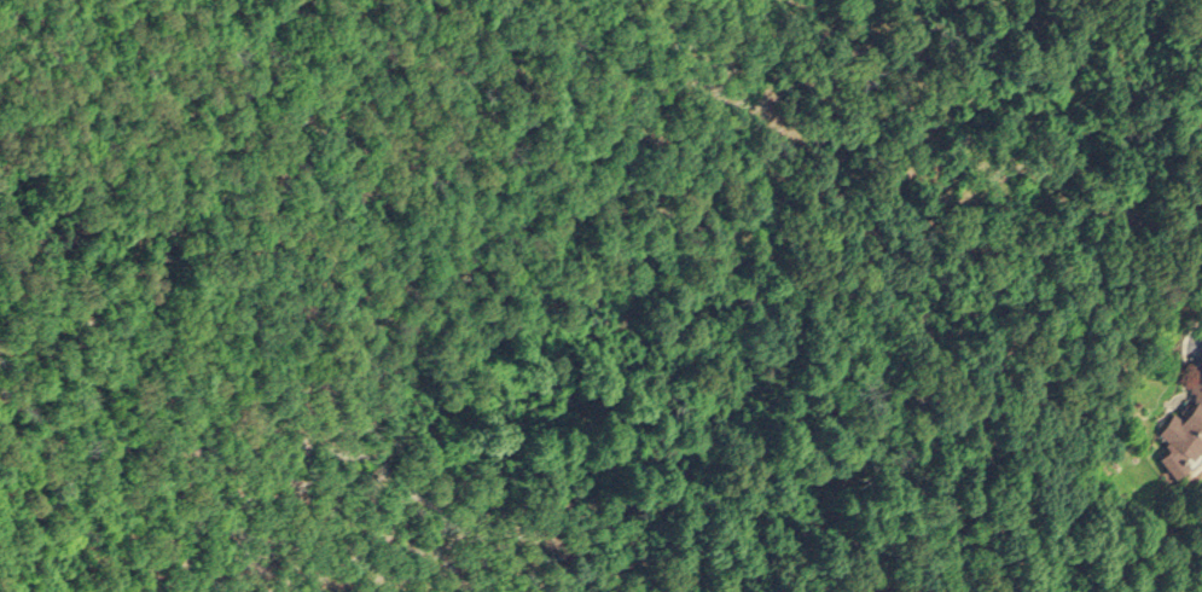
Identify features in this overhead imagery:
building: (1183, 424)

